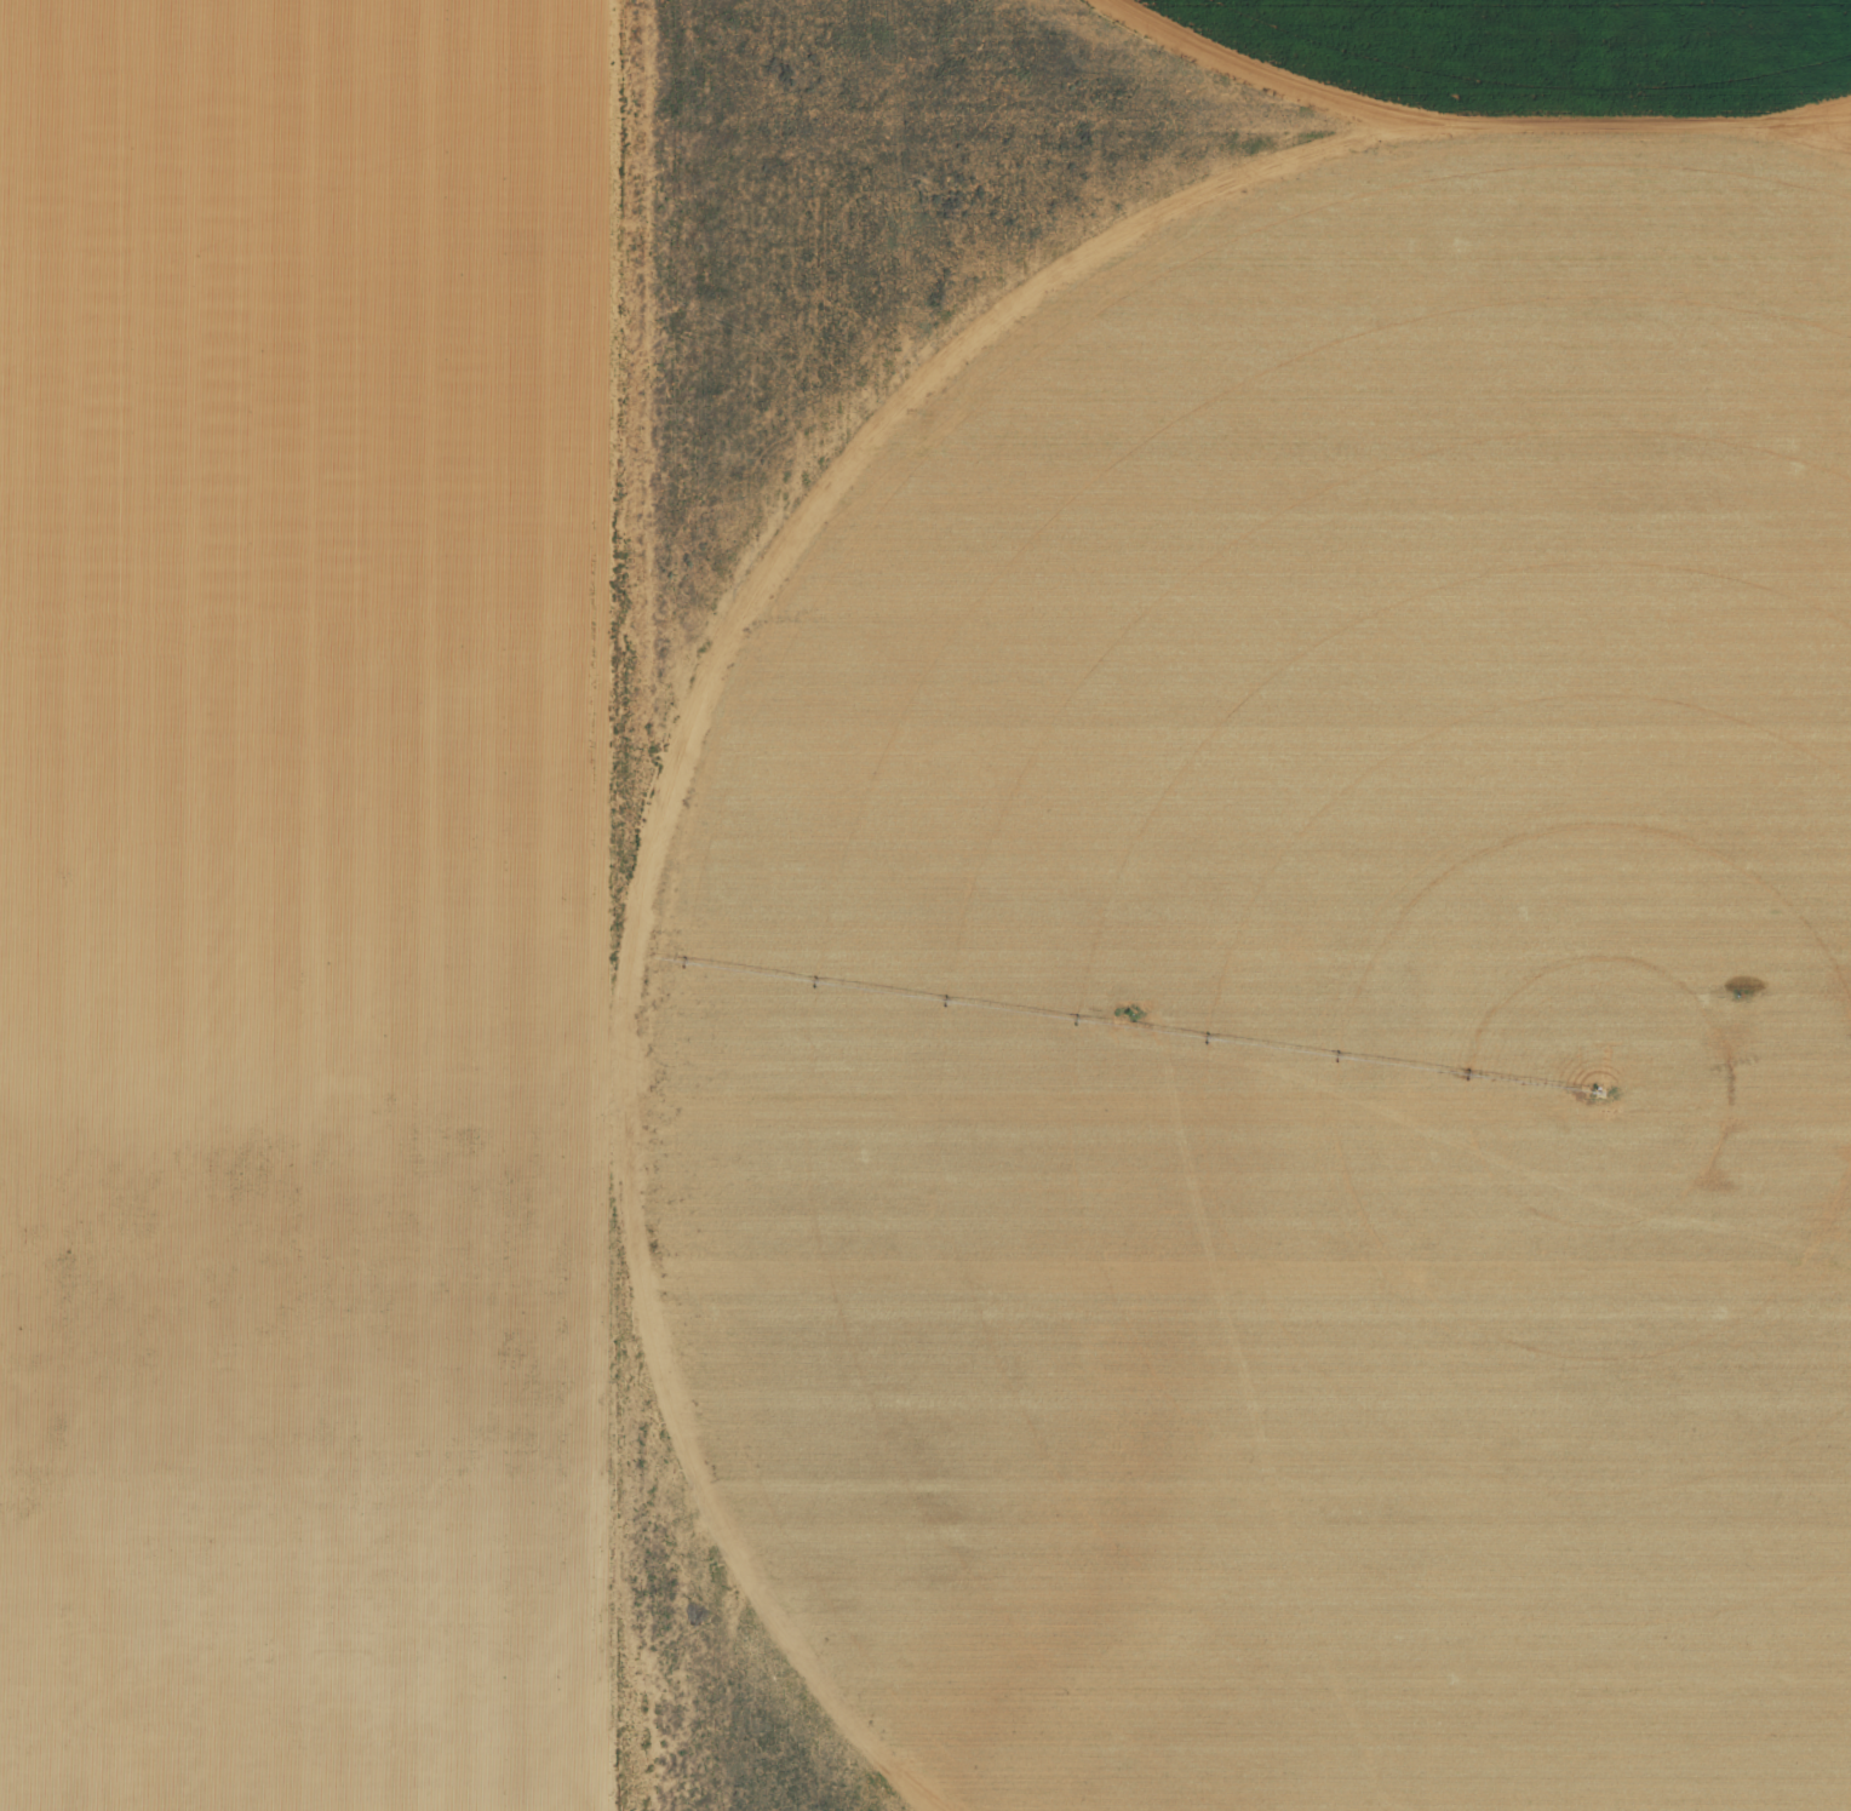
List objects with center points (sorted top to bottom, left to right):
road: (1637, 121)

